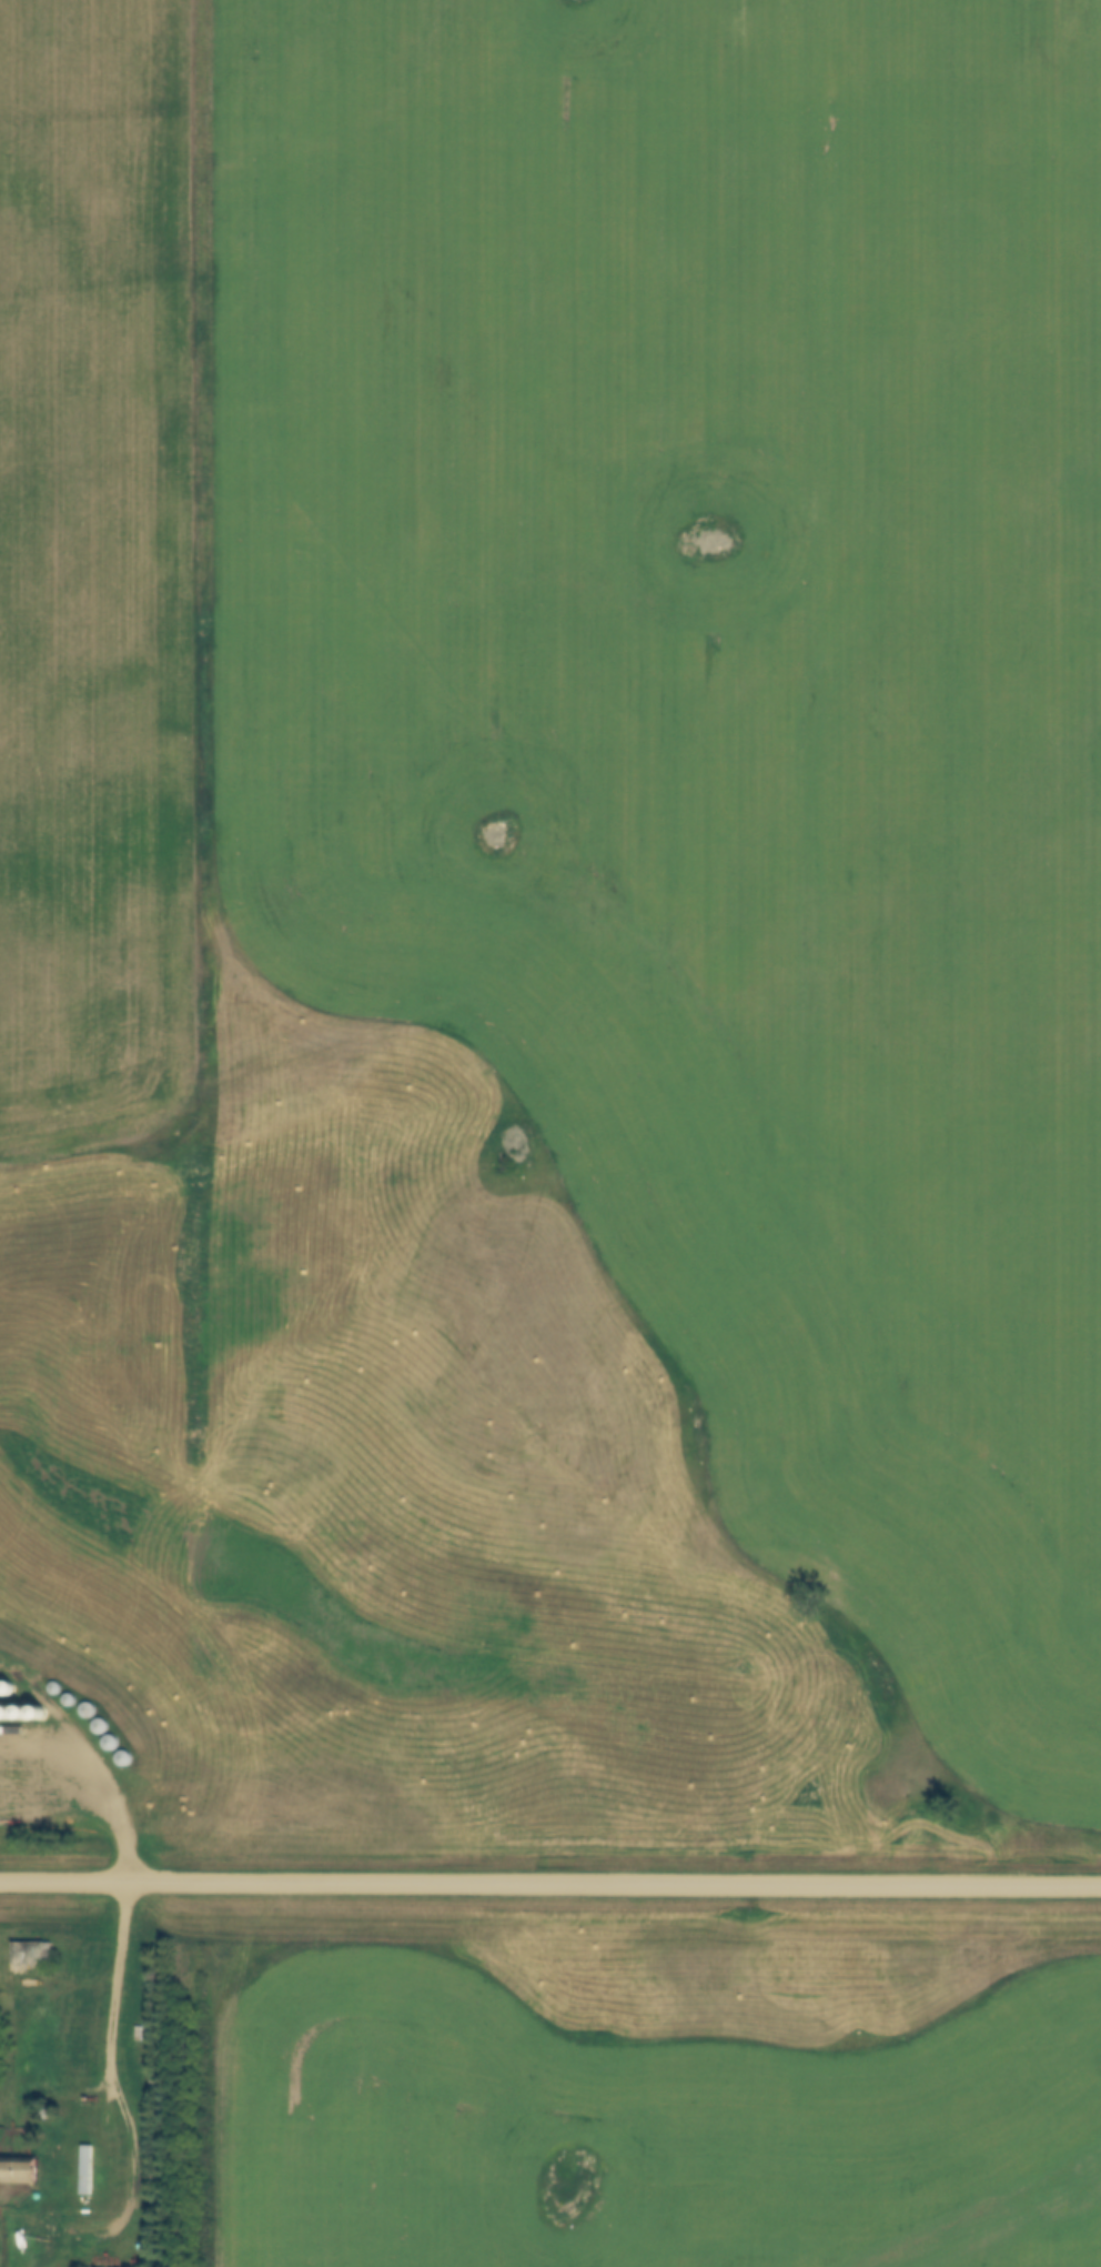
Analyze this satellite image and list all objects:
road: (549, 1882)
building: (29, 1953)
road: (118, 1980)
building: (139, 2033)
building: (83, 2169)
building: (17, 2171)
road: (7, 2210)

